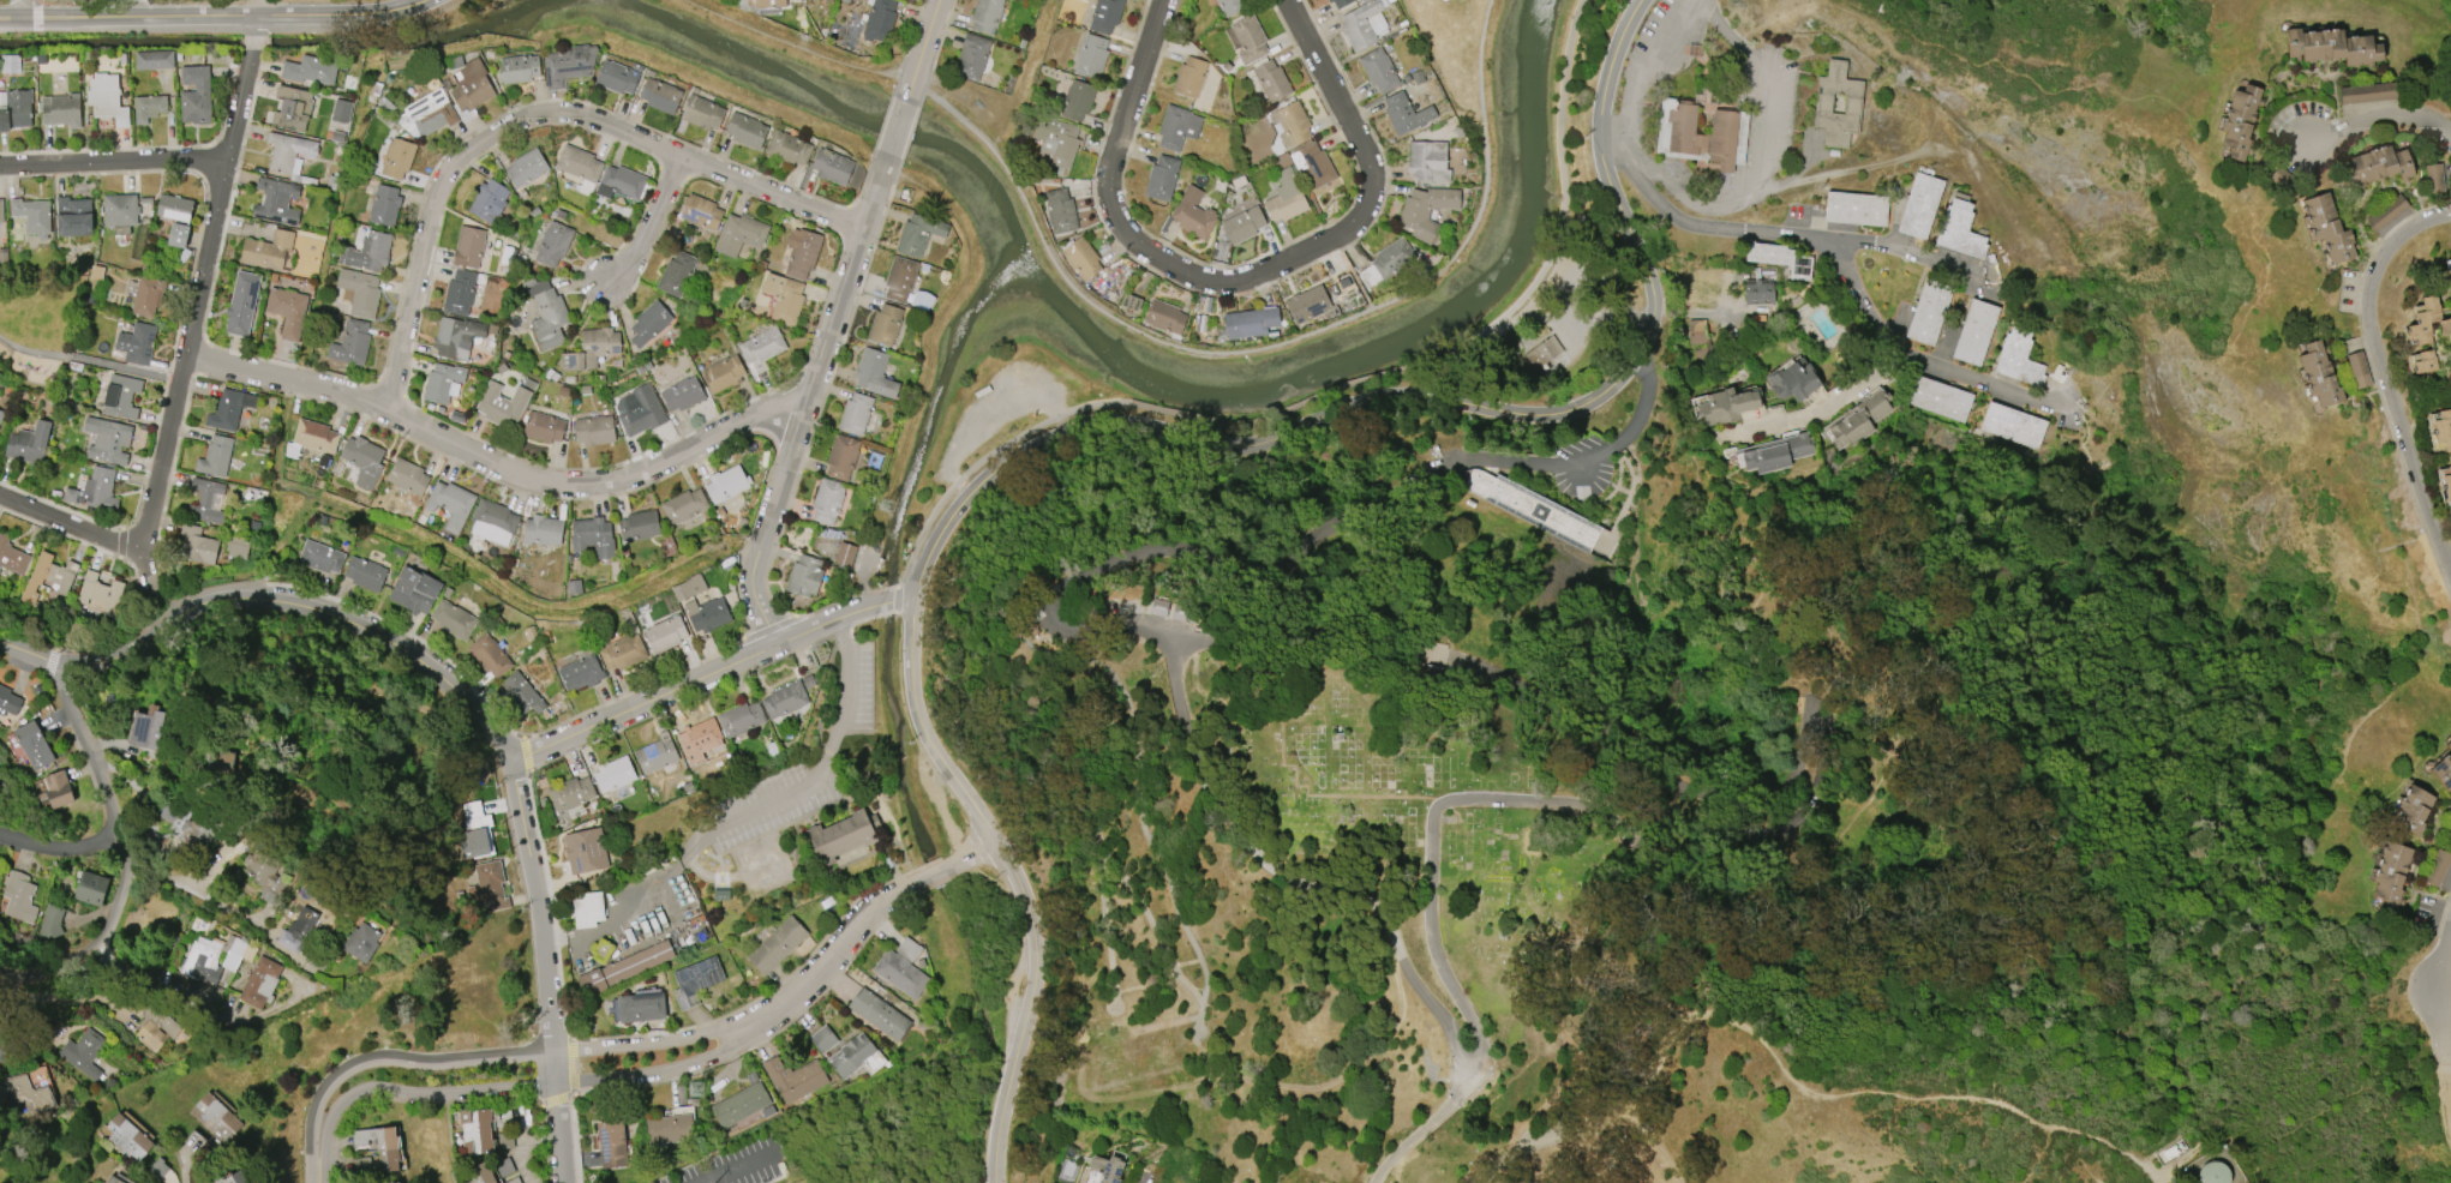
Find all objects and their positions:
building: (907, 0)
building: (765, 2)
building: (1340, 2)
road: (22, 6)
building: (1232, 7)
road: (214, 16)
building: (985, 16)
building: (1104, 16)
building: (879, 20)
building: (1360, 25)
road: (254, 26)
road: (929, 31)
building: (1248, 38)
road: (252, 42)
building: (2331, 47)
building: (1091, 55)
building: (971, 56)
building: (154, 60)
building: (10, 64)
building: (567, 64)
road: (1616, 64)
building: (517, 68)
building: (310, 70)
building: (1378, 70)
road: (1647, 72)
building: (615, 77)
building: (1189, 77)
building: (1271, 80)
building: (472, 86)
building: (2367, 92)
building: (194, 95)
building: (659, 95)
building: (106, 98)
building: (1077, 100)
building: (1822, 103)
building: (148, 108)
building: (292, 108)
building: (16, 109)
building: (60, 109)
building: (341, 110)
building: (431, 112)
building: (701, 112)
building: (1406, 113)
road: (534, 116)
road: (900, 121)
building: (2239, 121)
road: (2378, 121)
building: (1290, 124)
building: (1176, 127)
building: (745, 131)
building: (1679, 134)
road: (1763, 137)
building: (1055, 140)
building: (787, 148)
building: (288, 151)
road: (1636, 155)
building: (396, 158)
building: (1427, 161)
building: (577, 163)
building: (1314, 164)
building: (2379, 164)
building: (831, 167)
building: (526, 168)
road: (112, 169)
building: (1162, 178)
building: (2434, 178)
building: (619, 182)
building: (1284, 198)
building: (489, 200)
building: (276, 202)
building: (384, 205)
building: (1919, 205)
building: (174, 208)
building: (1856, 209)
building: (1060, 210)
building: (1, 211)
building: (1426, 211)
building: (119, 212)
building: (700, 212)
building: (2387, 212)
building: (1193, 214)
building: (32, 216)
building: (73, 216)
building: (1242, 224)
road: (652, 226)
building: (2326, 228)
building: (1959, 230)
building: (739, 234)
building: (178, 235)
building: (917, 235)
building: (552, 242)
building: (468, 247)
road: (1905, 247)
building: (266, 250)
building: (366, 252)
building: (801, 252)
building: (1081, 258)
building: (1779, 258)
building: (1392, 259)
road: (1833, 264)
building: (676, 274)
building: (2445, 277)
building: (899, 280)
road: (1245, 281)
building: (1758, 292)
building: (459, 293)
building: (146, 295)
building: (364, 296)
building: (783, 298)
road: (198, 301)
building: (1131, 302)
building: (241, 304)
building: (1307, 304)
building: (287, 311)
building: (1928, 312)
building: (545, 313)
building: (1164, 317)
building: (2427, 320)
building: (648, 323)
building: (1250, 323)
building: (885, 324)
park: (40, 330)
building: (1974, 332)
building: (456, 337)
building: (1700, 338)
building: (136, 343)
building: (350, 343)
building: (762, 344)
road: (1266, 348)
building: (591, 349)
building: (1541, 353)
road: (82, 358)
building: (2018, 359)
building: (2425, 361)
building: (2359, 370)
road: (2387, 371)
building: (723, 373)
building: (874, 373)
building: (2319, 374)
road: (175, 379)
building: (1793, 380)
building: (442, 383)
building: (682, 394)
building: (120, 396)
building: (1940, 398)
road: (1331, 400)
building: (501, 404)
building: (1727, 406)
building: (228, 409)
road: (1821, 409)
building: (639, 410)
road: (802, 412)
building: (855, 413)
building: (1, 414)
building: (1857, 420)
building: (2012, 425)
building: (543, 427)
building: (2443, 428)
building: (593, 430)
building: (313, 436)
building: (107, 440)
road: (1229, 442)
building: (28, 443)
building: (1775, 452)
building: (215, 456)
building: (841, 457)
building: (362, 461)
road: (496, 467)
building: (407, 476)
building: (2447, 482)
building: (725, 484)
building: (95, 491)
building: (205, 500)
building: (827, 500)
building: (450, 504)
building: (683, 506)
building: (1528, 506)
power tower: (887, 509)
building: (493, 517)
road: (72, 526)
building: (639, 526)
building: (541, 530)
building: (592, 536)
building: (197, 545)
building: (236, 546)
building: (844, 554)
building: (12, 557)
building: (319, 557)
building: (365, 574)
building: (804, 576)
building: (48, 577)
road: (164, 583)
building: (688, 588)
building: (414, 590)
building: (98, 591)
road: (891, 605)
road: (907, 605)
road: (1050, 607)
building: (1159, 607)
building: (1183, 613)
building: (706, 614)
building: (453, 619)
building: (665, 635)
building: (622, 651)
building: (489, 655)
building: (580, 673)
road: (445, 693)
building: (521, 693)
building: (784, 699)
building: (8, 702)
building: (739, 719)
building: (145, 728)
building: (699, 737)
building: (32, 744)
building: (655, 753)
road: (828, 755)
building: (221, 762)
building: (2443, 769)
building: (613, 774)
building: (55, 789)
building: (570, 793)
road: (113, 809)
road: (886, 809)
building: (2411, 809)
building: (198, 831)
building: (2449, 831)
building: (475, 833)
building: (843, 840)
road: (60, 848)
building: (585, 851)
road: (973, 858)
building: (2438, 867)
building: (264, 875)
building: (2390, 875)
road: (741, 876)
road: (936, 877)
road: (192, 885)
building: (487, 887)
building: (90, 888)
building: (18, 896)
road: (637, 897)
road: (670, 901)
building: (587, 909)
building: (49, 923)
building: (296, 929)
road: (1434, 935)
building: (361, 942)
building: (777, 945)
building: (209, 960)
building: (623, 968)
building: (901, 968)
road: (49, 969)
road: (546, 971)
building: (695, 980)
building: (259, 983)
building: (641, 1005)
road: (1029, 1010)
road: (2446, 1010)
building: (879, 1014)
road: (766, 1021)
building: (156, 1028)
building: (822, 1039)
building: (83, 1052)
building: (2, 1055)
building: (851, 1056)
building: (793, 1079)
road: (398, 1080)
road: (2447, 1091)
building: (29, 1092)
power tower: (697, 1092)
building: (739, 1105)
building: (217, 1116)
building: (669, 1128)
building: (475, 1131)
building: (126, 1137)
building: (611, 1143)
building: (193, 1147)
building: (386, 1151)
parking lot: (735, 1164)
road: (735, 1166)
road: (2145, 1167)
building: (1107, 1169)
road: (186, 1172)
building: (2212, 1172)
building: (483, 1175)
building: (233, 1178)
building: (112, 1179)
road: (1144, 1179)
building: (389, 1182)

